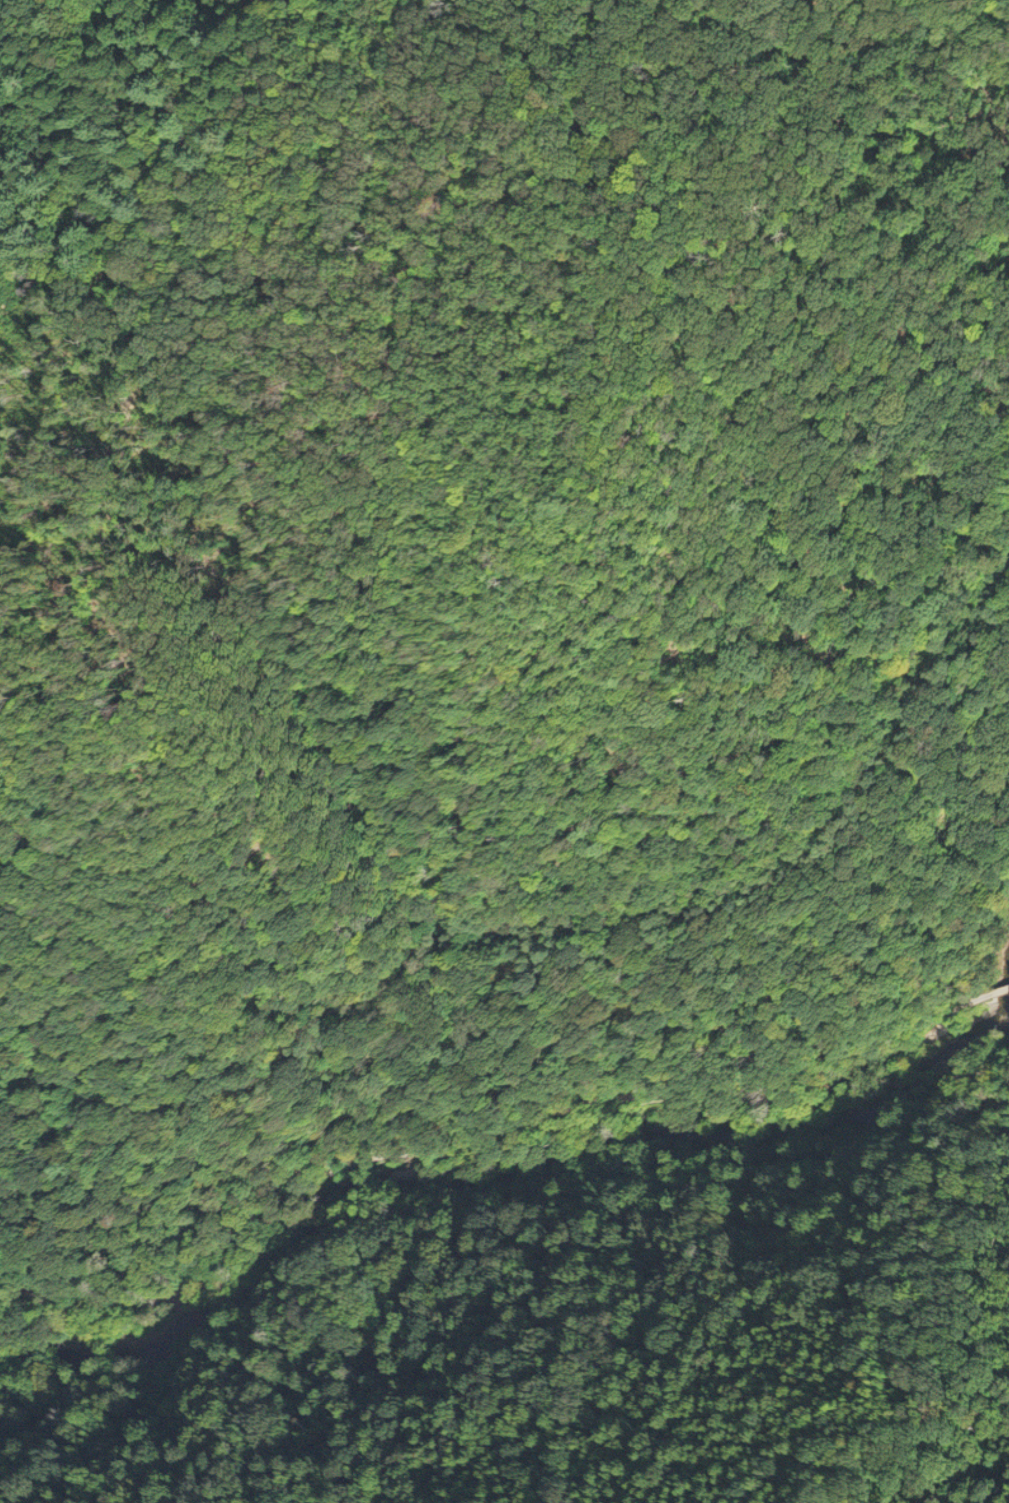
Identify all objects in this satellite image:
road: (418, 940)
building: (1001, 987)
road: (1003, 993)
road: (986, 998)
road: (480, 1146)

